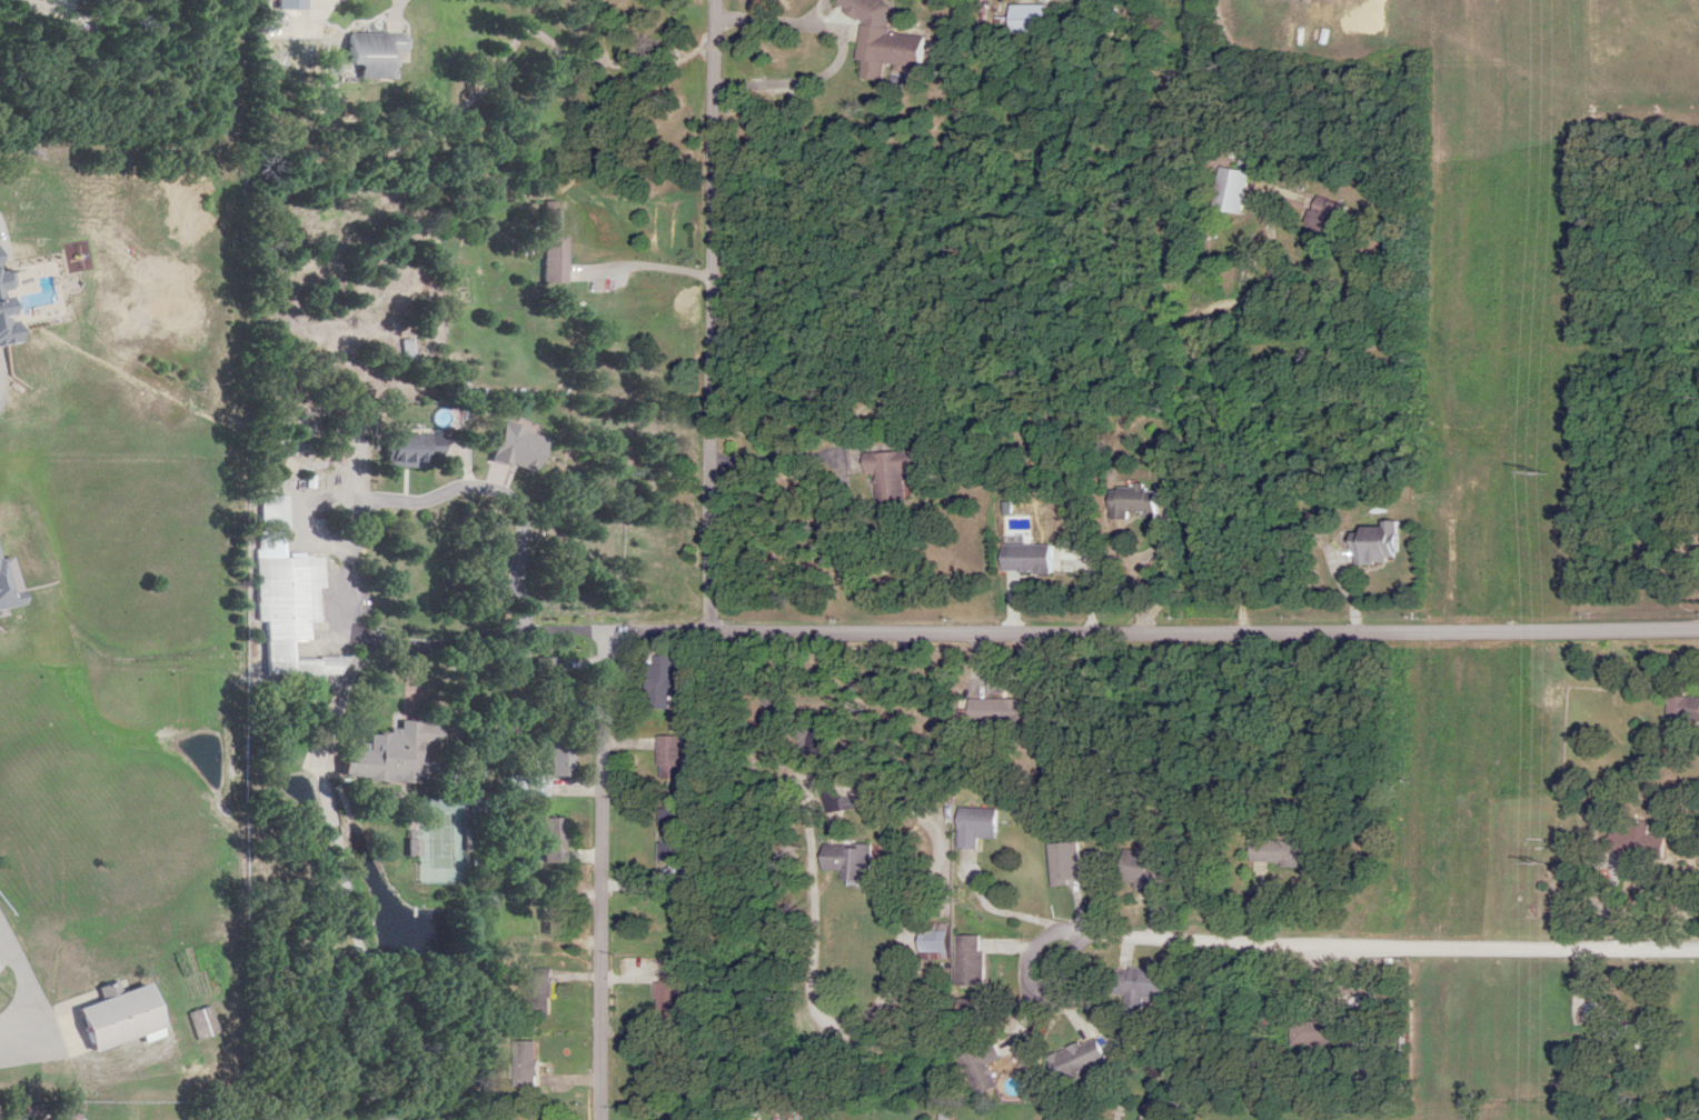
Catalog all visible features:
building: (1329, 4)
road: (395, 10)
road: (785, 24)
building: (996, 24)
building: (877, 34)
building: (376, 53)
building: (1224, 190)
building: (1319, 216)
building: (557, 241)
road: (642, 264)
building: (9, 307)
road: (715, 310)
road: (1440, 316)
building: (411, 451)
building: (885, 472)
building: (1130, 503)
building: (1698, 539)
building: (1372, 544)
building: (1022, 559)
building: (288, 596)
road: (1203, 631)
road: (604, 658)
building: (548, 681)
building: (666, 681)
building: (1680, 709)
building: (988, 712)
building: (395, 754)
building: (675, 758)
building: (562, 759)
road: (530, 784)
building: (528, 786)
building: (971, 827)
building: (678, 834)
building: (553, 840)
building: (1630, 841)
building: (1272, 852)
building: (842, 861)
building: (1069, 863)
building: (1142, 870)
building: (557, 911)
building: (927, 940)
road: (1313, 943)
road: (605, 952)
building: (964, 960)
building: (1134, 987)
building: (672, 997)
building: (125, 1018)
building: (1623, 1033)
building: (1072, 1059)
building: (534, 1063)
building: (976, 1067)
building: (51, 1119)

